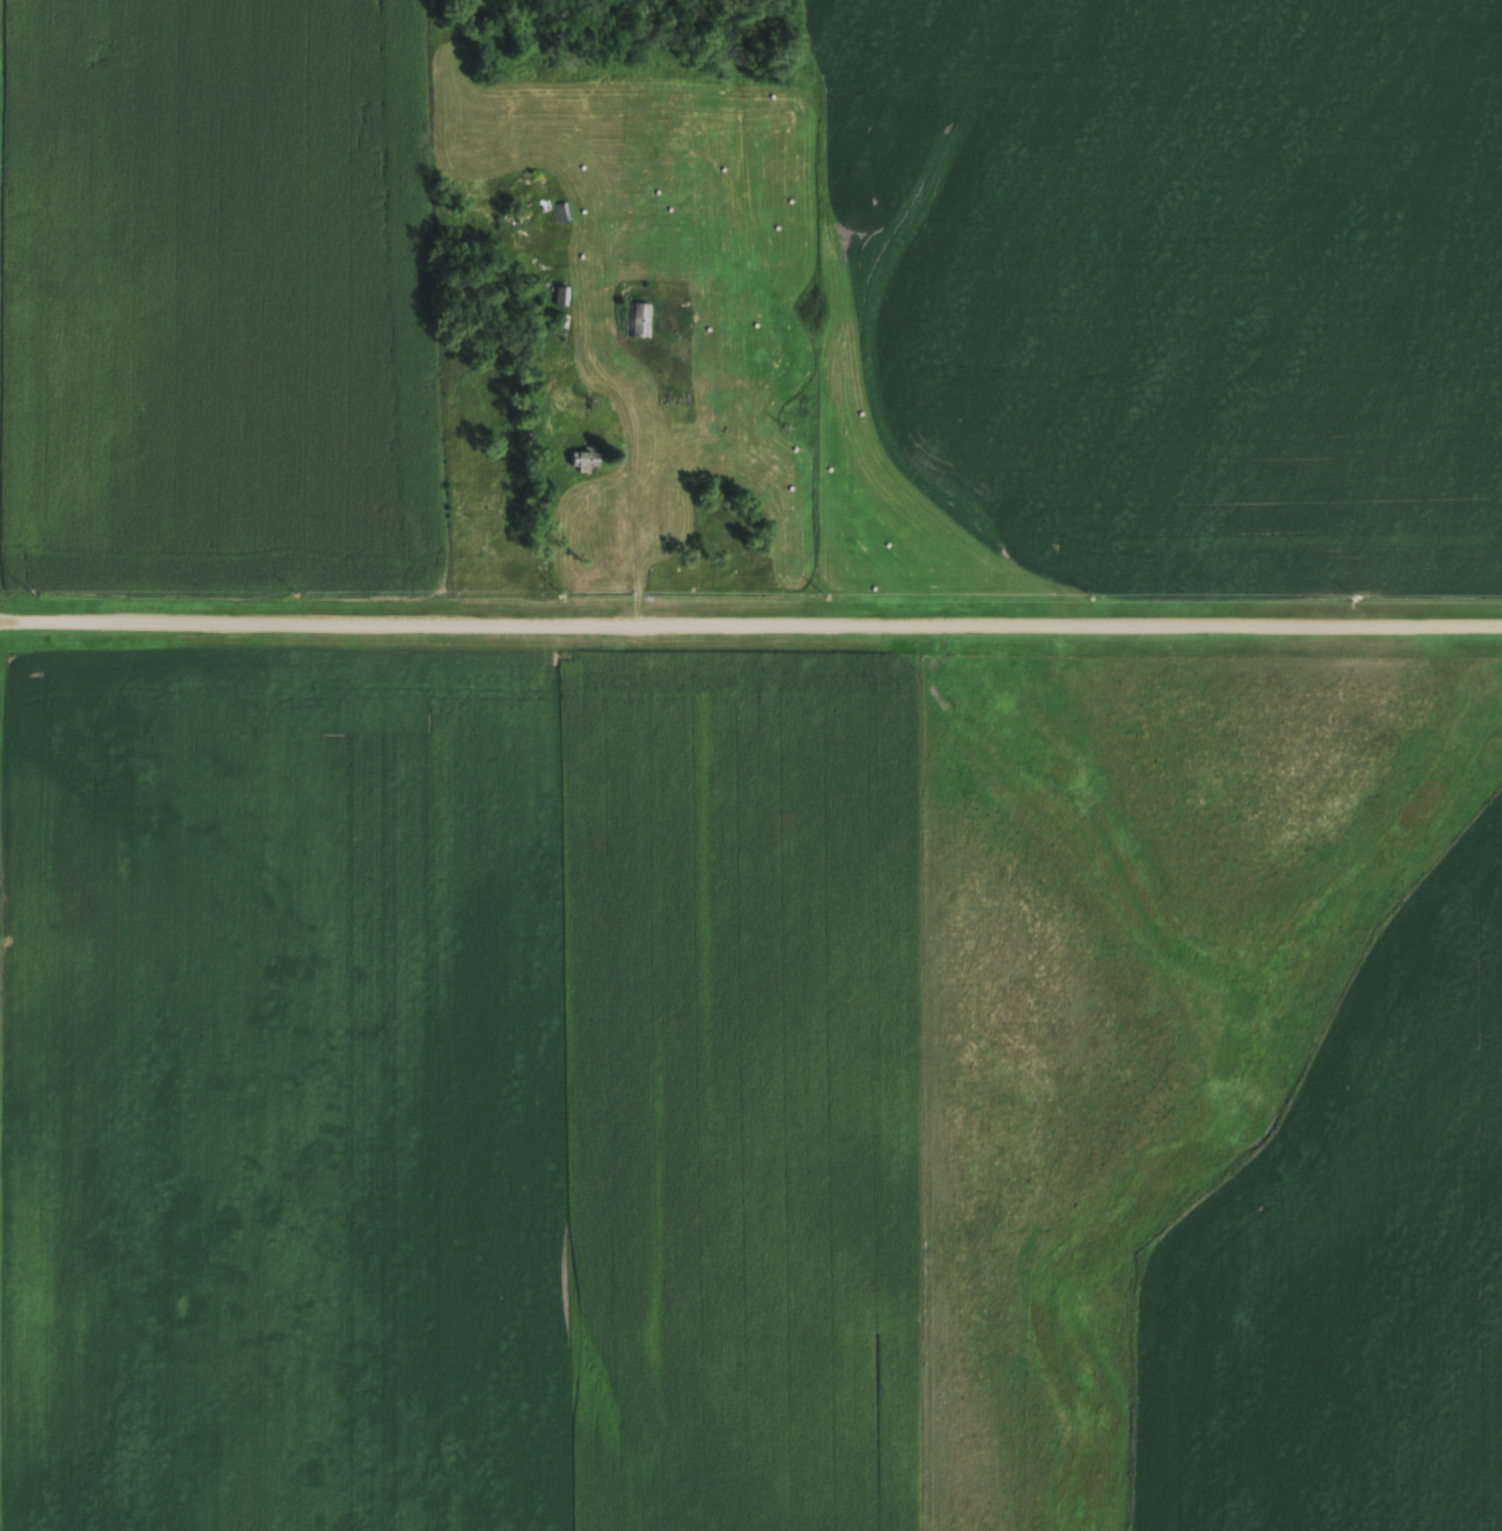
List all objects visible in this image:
building: (560, 216)
building: (562, 299)
building: (634, 318)
building: (586, 464)
road: (638, 509)
road: (750, 623)

